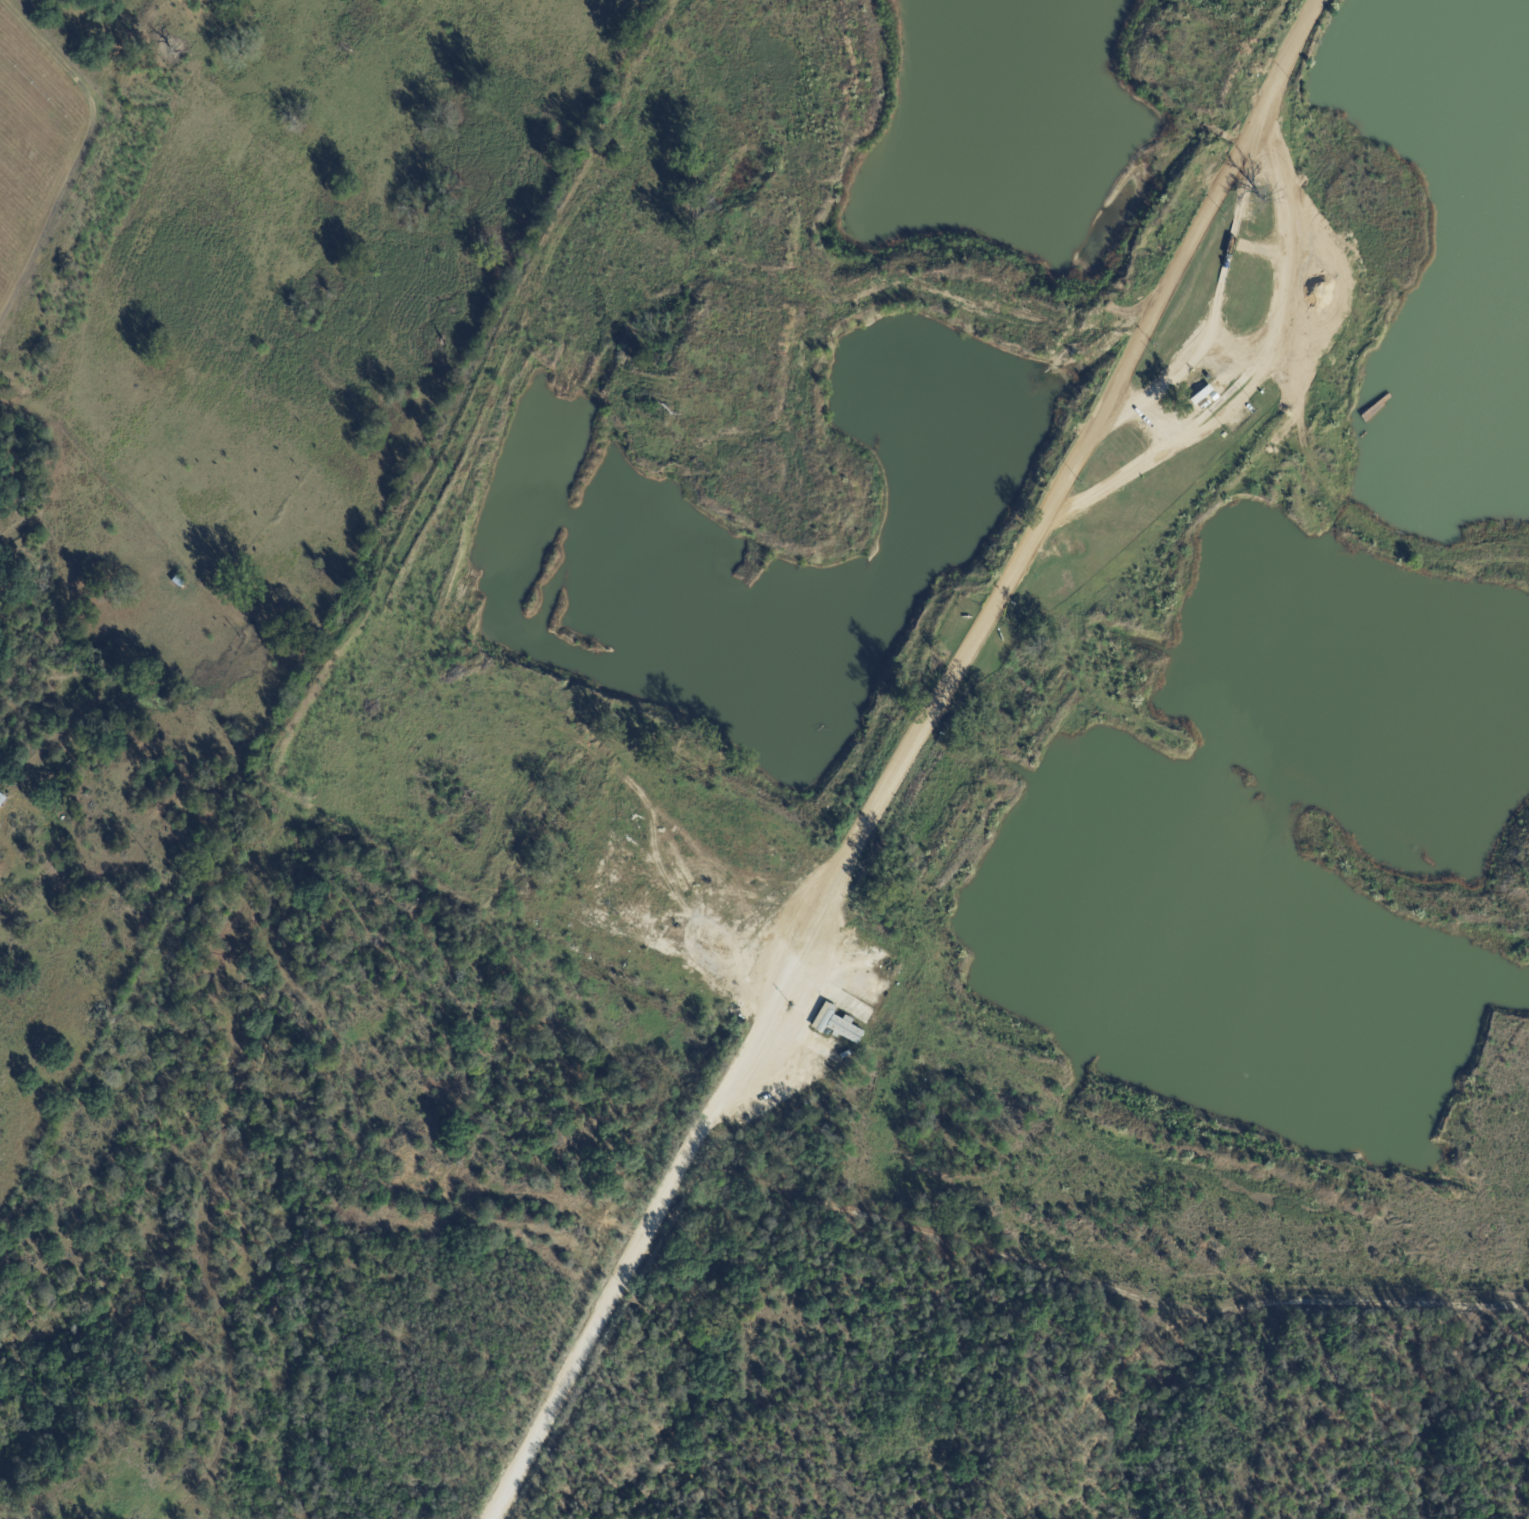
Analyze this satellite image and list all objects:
road: (1258, 359)
building: (1204, 396)
building: (1368, 402)
building: (177, 582)
road: (905, 759)
building: (2, 799)
building: (836, 1025)

